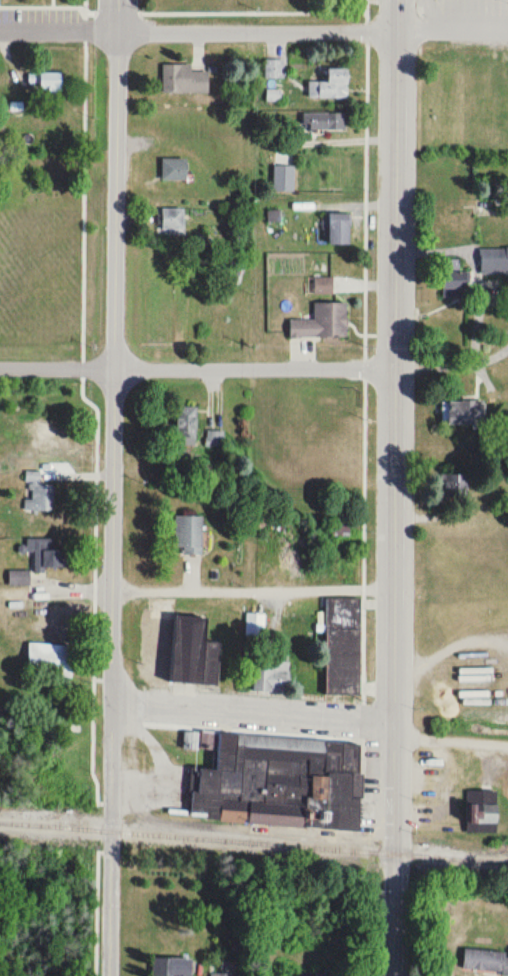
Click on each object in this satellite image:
road: (453, 18)
road: (198, 24)
building: (184, 80)
building: (51, 81)
building: (331, 85)
building: (325, 121)
building: (175, 170)
building: (174, 220)
building: (339, 229)
building: (493, 261)
building: (323, 322)
road: (195, 364)
building: (463, 414)
park: (303, 424)
building: (187, 426)
building: (40, 433)
road: (390, 487)
road: (109, 488)
building: (38, 496)
building: (188, 534)
building: (49, 556)
building: (19, 578)
road: (249, 584)
building: (59, 611)
building: (344, 646)
building: (195, 652)
building: (51, 662)
building: (272, 675)
road: (250, 708)
road: (450, 740)
building: (278, 783)
building: (482, 812)
railway: (253, 841)
building: (485, 961)
building: (172, 967)
building: (225, 974)

